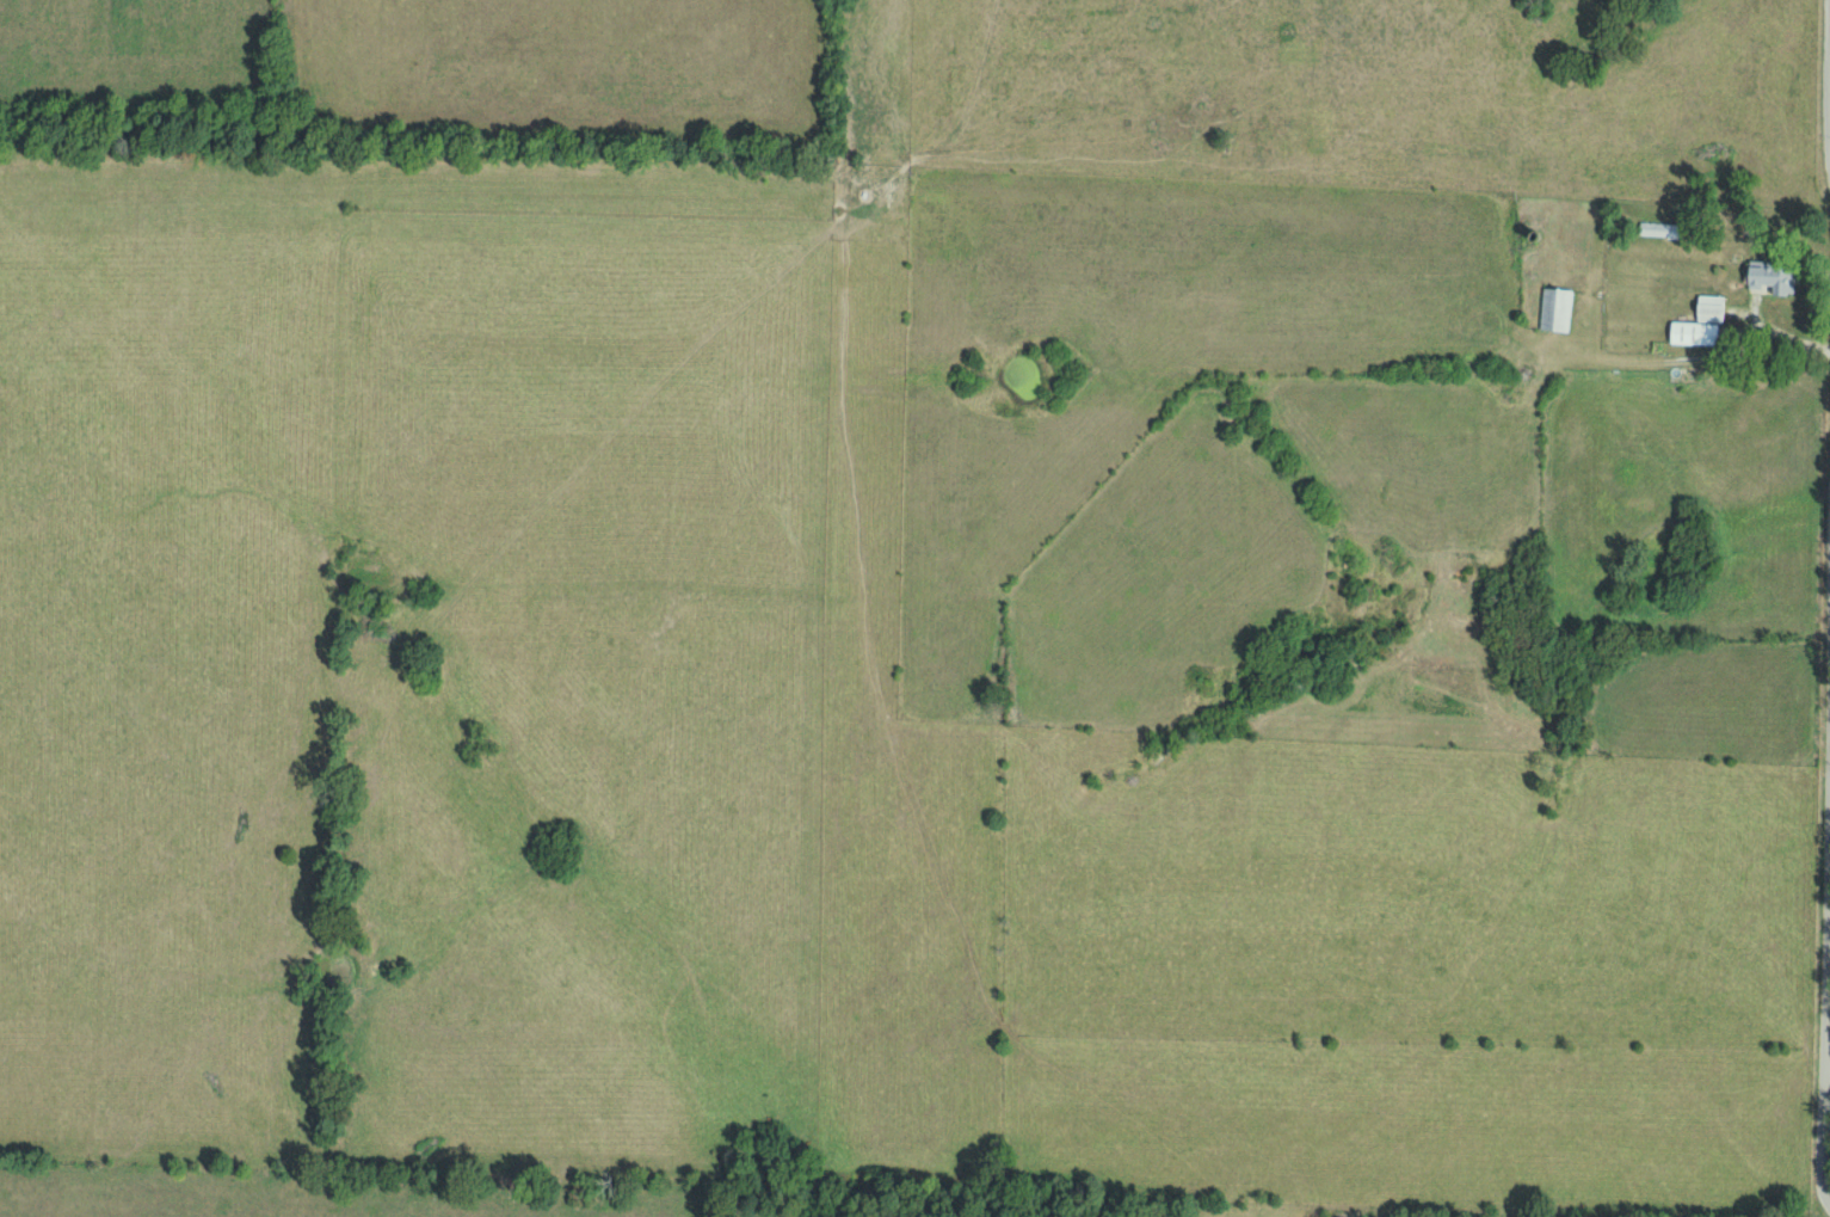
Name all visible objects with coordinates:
building: (1768, 275)
building: (1552, 308)
building: (1696, 322)
road: (1825, 1086)

